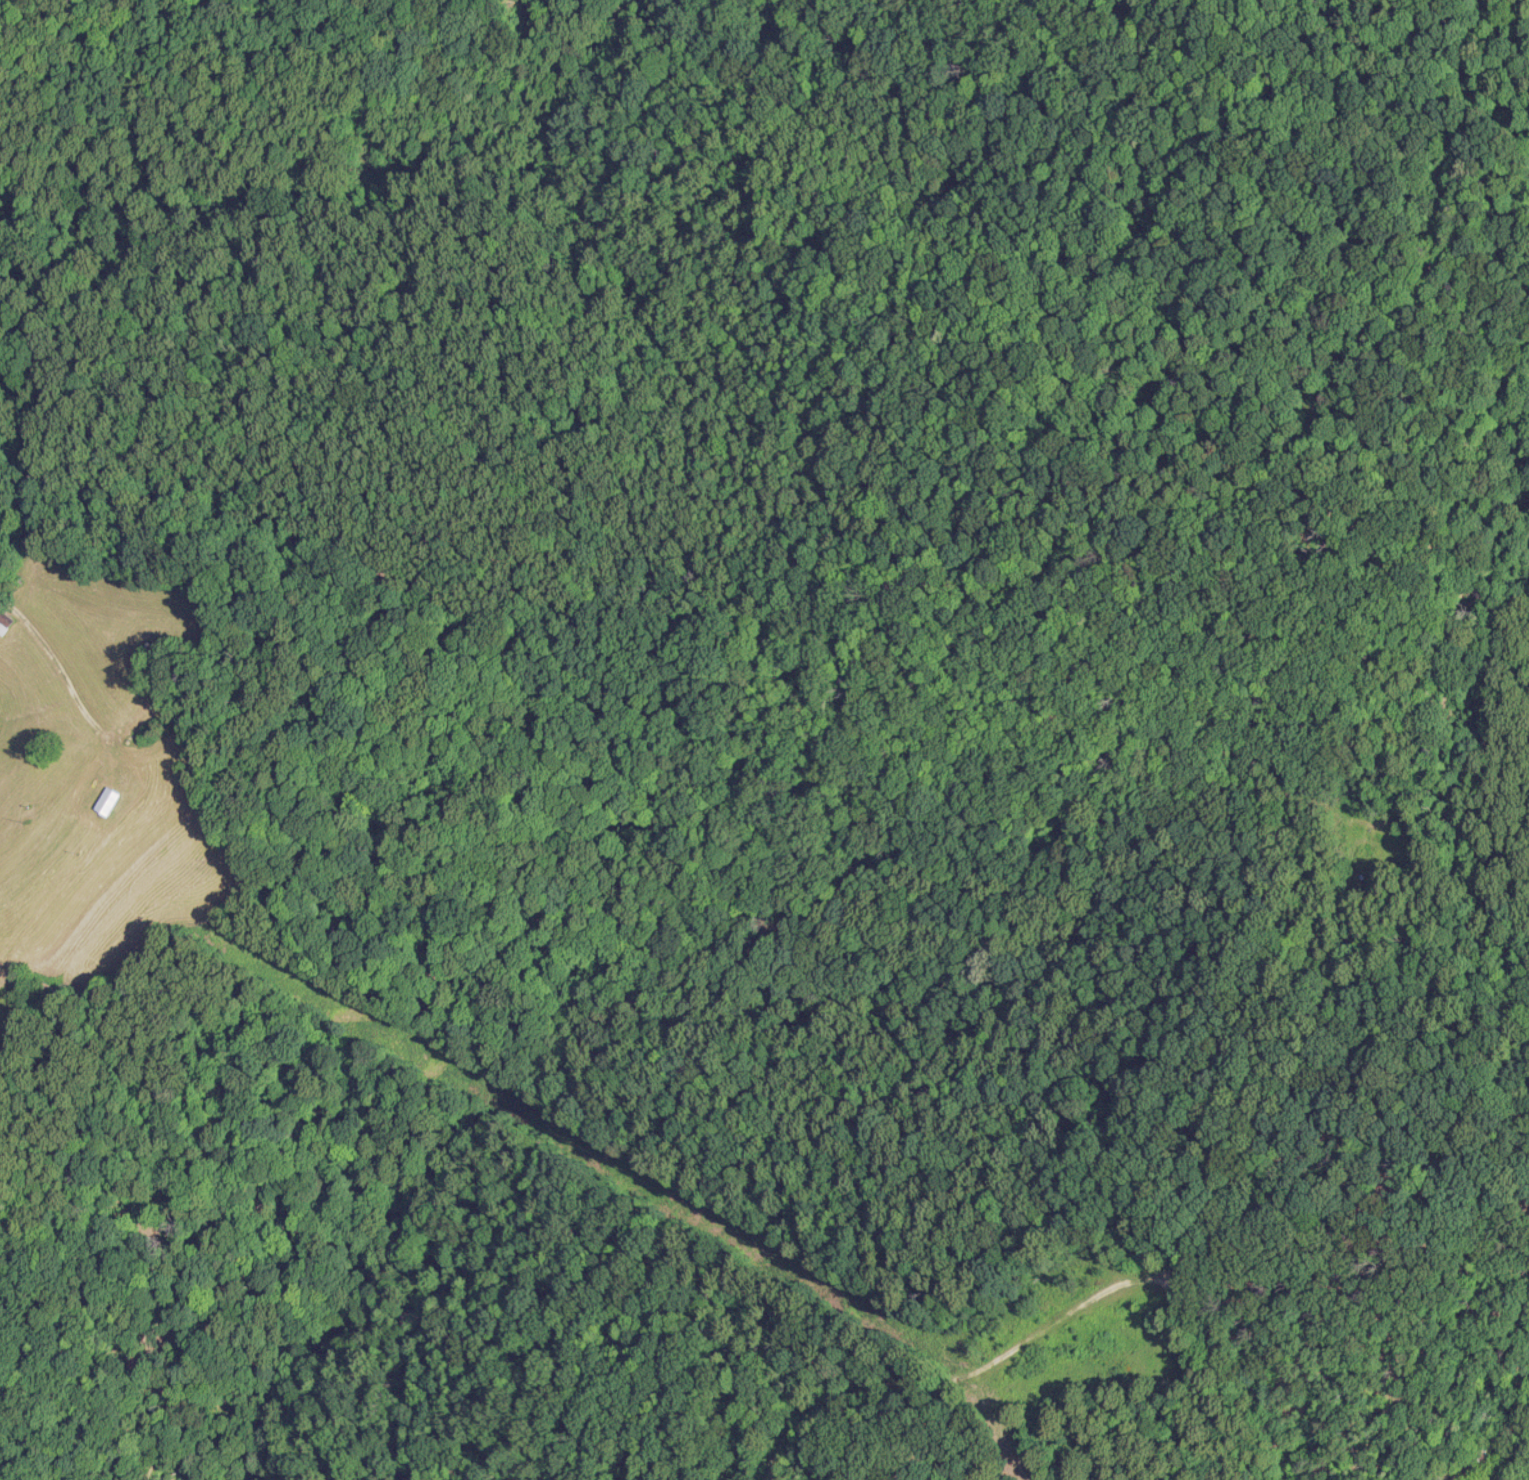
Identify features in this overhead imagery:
building: (3, 621)
road: (80, 653)
building: (103, 800)

